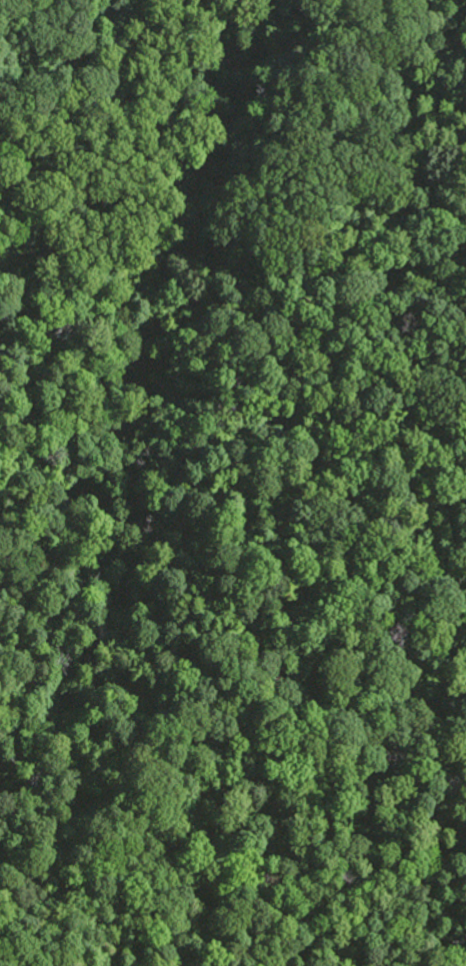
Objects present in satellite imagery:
road: (390, 444)

